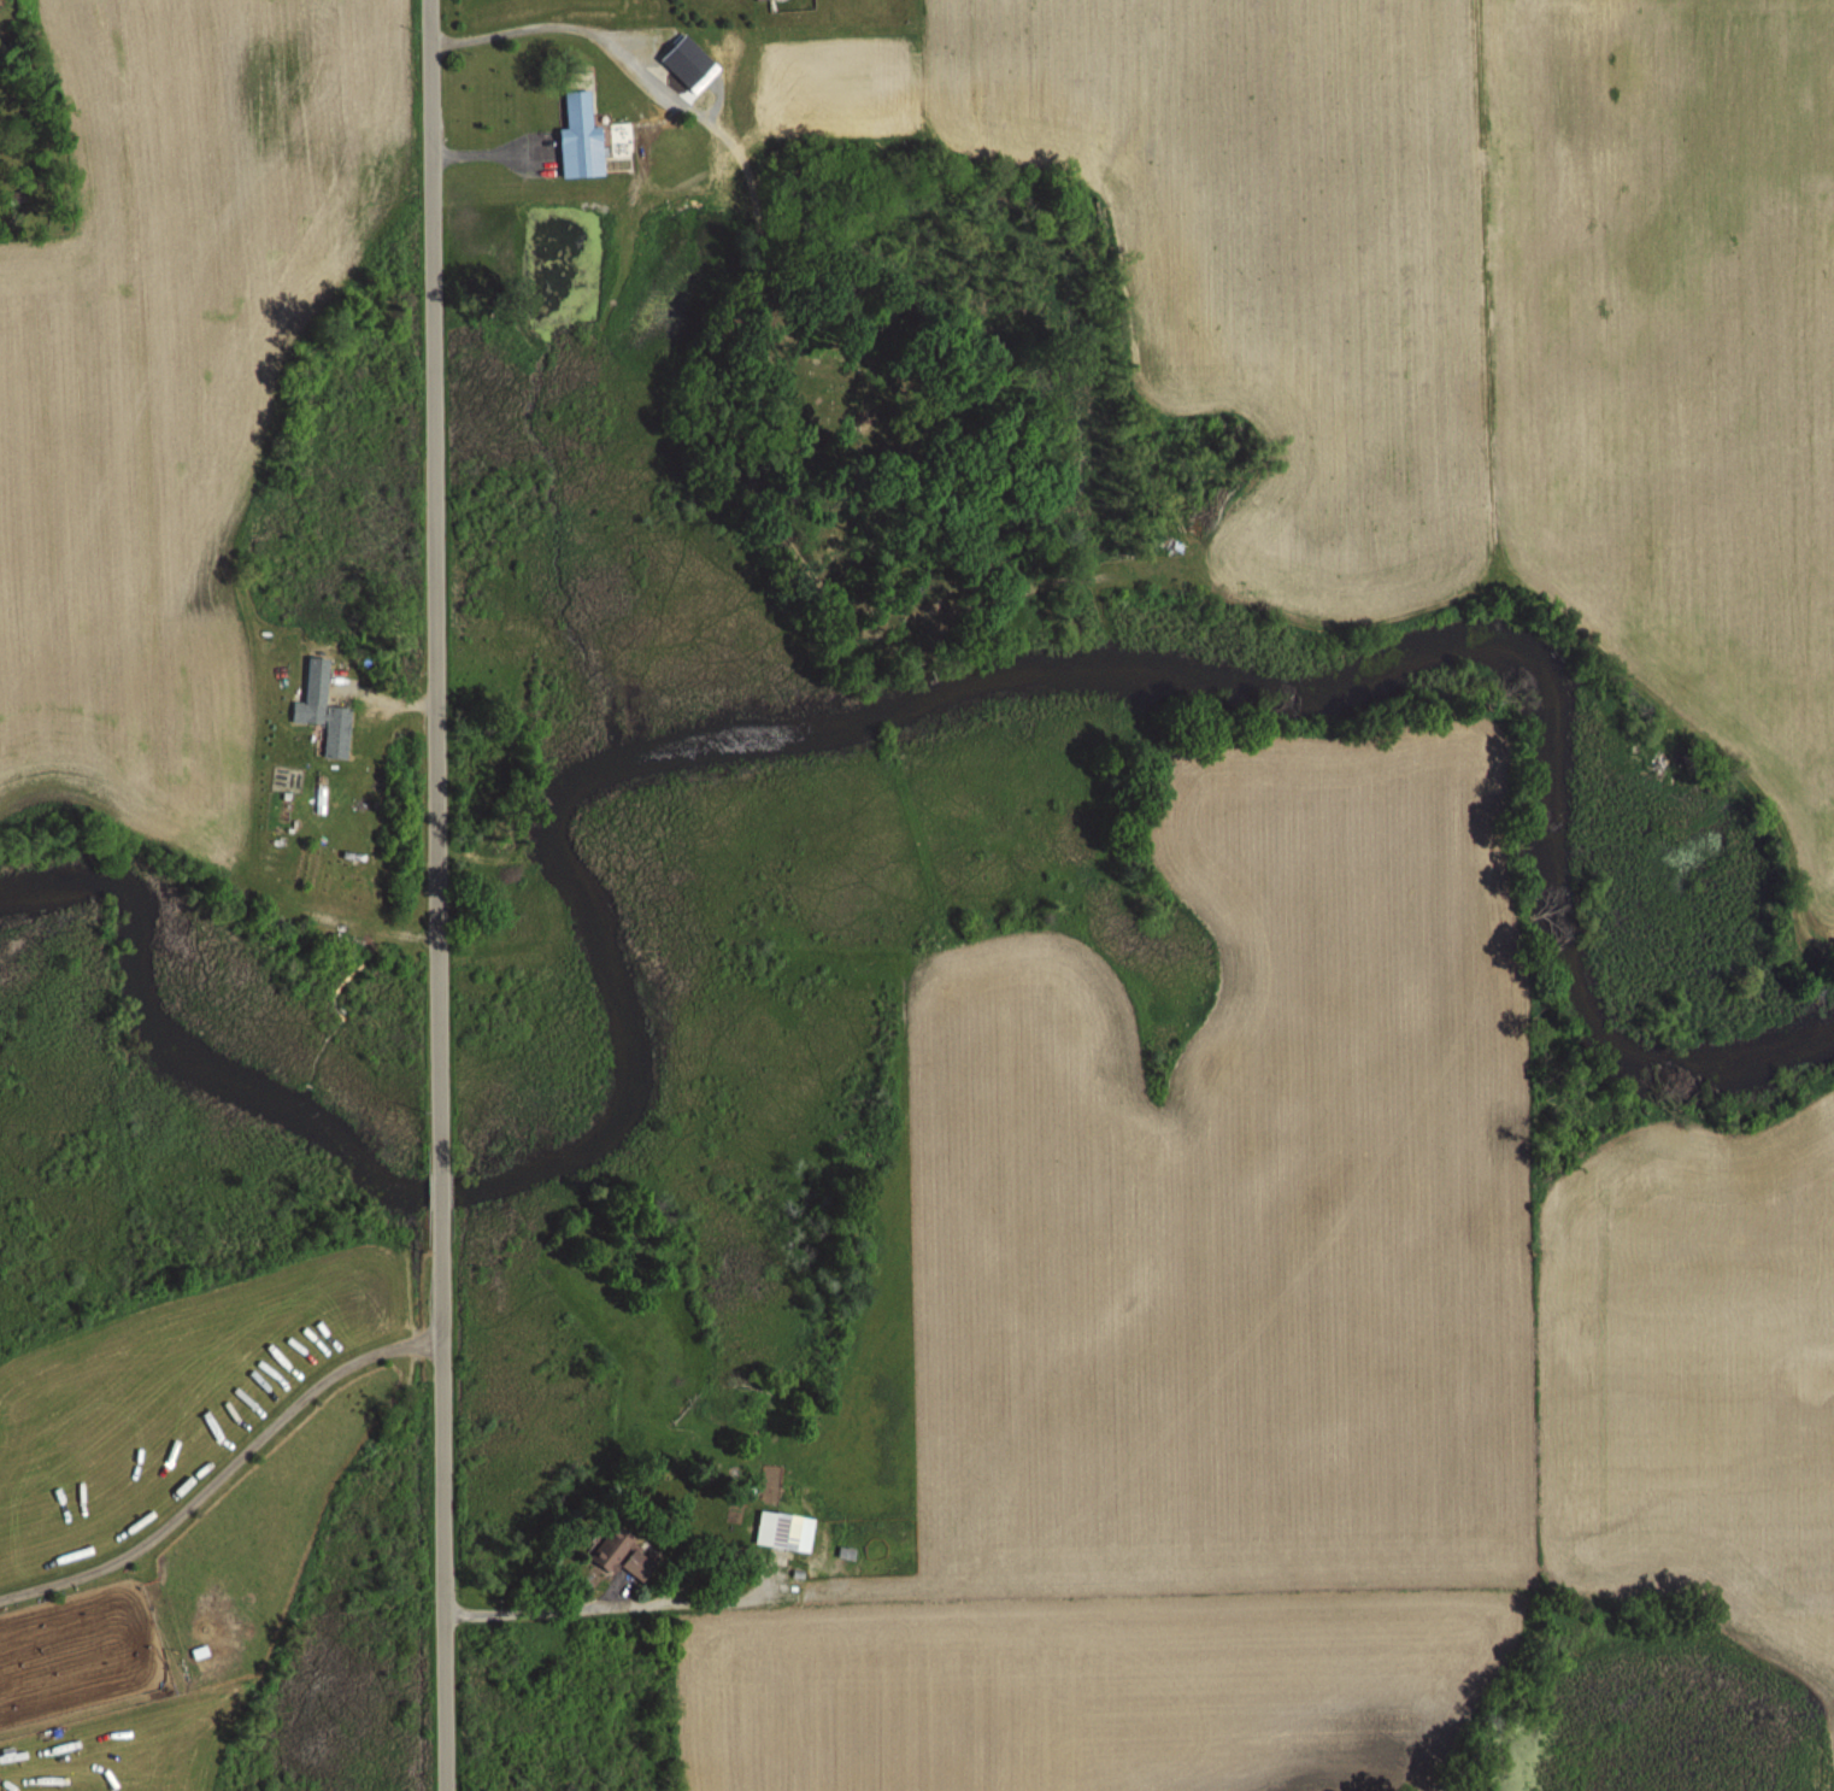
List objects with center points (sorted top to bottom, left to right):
building: (688, 61)
building: (581, 139)
road: (435, 564)
building: (333, 727)
river: (765, 738)
road: (441, 1197)
road: (443, 1527)
building: (786, 1531)
building: (628, 1558)

